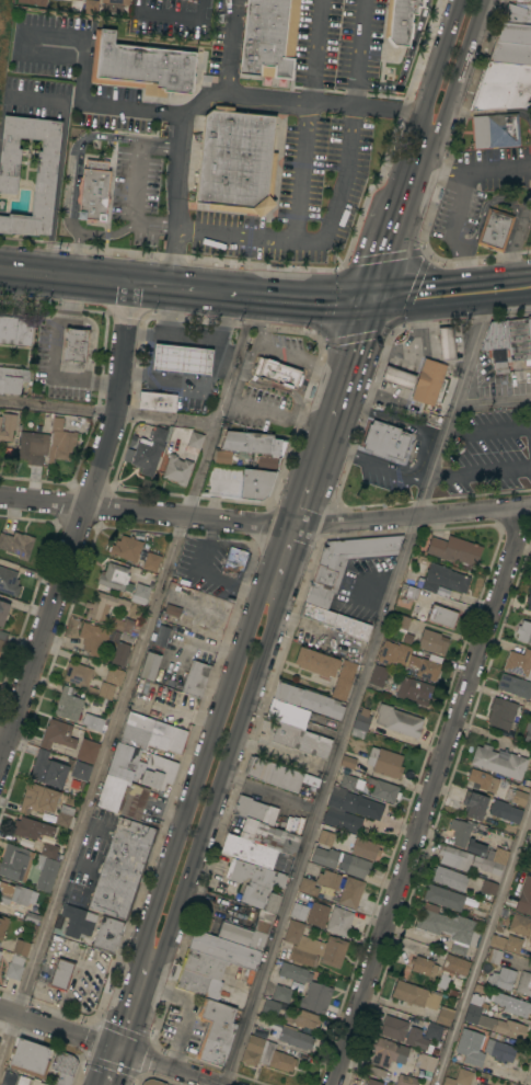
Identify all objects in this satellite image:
building: (32, 1)
building: (116, 1)
building: (521, 1)
building: (90, 7)
building: (516, 14)
building: (400, 21)
building: (513, 32)
building: (269, 37)
parking lot: (339, 42)
road: (227, 45)
road: (84, 47)
road: (314, 50)
road: (358, 53)
building: (510, 53)
building: (140, 66)
road: (438, 67)
road: (459, 70)
building: (501, 87)
road: (222, 90)
building: (495, 130)
building: (235, 161)
road: (416, 164)
road: (302, 169)
road: (499, 169)
building: (45, 171)
parking lot: (137, 178)
road: (138, 184)
road: (71, 185)
building: (93, 191)
parking lot: (299, 196)
road: (463, 201)
building: (494, 228)
road: (314, 238)
road: (388, 245)
road: (76, 251)
road: (509, 251)
road: (66, 274)
road: (449, 281)
road: (173, 285)
road: (291, 296)
traffic signals: (370, 298)
road: (450, 308)
building: (15, 329)
building: (530, 331)
road: (148, 333)
road: (194, 334)
road: (91, 336)
building: (507, 342)
building: (446, 343)
building: (74, 344)
road: (218, 346)
road: (148, 354)
building: (180, 357)
road: (49, 358)
road: (235, 358)
road: (347, 368)
building: (278, 373)
building: (397, 377)
building: (12, 379)
road: (188, 381)
building: (428, 381)
building: (157, 401)
road: (492, 402)
road: (108, 412)
road: (276, 414)
building: (7, 425)
road: (496, 429)
building: (195, 439)
building: (383, 439)
building: (60, 441)
building: (252, 443)
building: (172, 445)
building: (33, 447)
building: (150, 450)
parking lot: (487, 455)
building: (221, 457)
building: (265, 460)
building: (176, 469)
road: (480, 472)
road: (311, 482)
building: (255, 483)
road: (265, 523)
road: (80, 524)
building: (16, 544)
building: (125, 548)
building: (453, 549)
building: (235, 557)
building: (150, 561)
building: (343, 563)
road: (293, 566)
building: (115, 578)
building: (443, 579)
building: (9, 581)
building: (530, 581)
building: (419, 582)
building: (139, 594)
building: (406, 594)
building: (529, 601)
building: (101, 605)
building: (170, 609)
building: (2, 610)
building: (441, 616)
building: (335, 621)
building: (401, 623)
building: (125, 628)
building: (523, 631)
building: (160, 635)
building: (2, 638)
building: (93, 638)
building: (431, 641)
building: (119, 653)
building: (409, 660)
building: (315, 662)
building: (518, 662)
building: (149, 665)
building: (78, 673)
building: (378, 675)
building: (114, 676)
building: (195, 678)
building: (343, 679)
building: (513, 685)
building: (105, 690)
building: (414, 690)
building: (145, 693)
road: (356, 695)
building: (308, 699)
building: (67, 704)
building: (287, 713)
building: (501, 715)
building: (161, 717)
building: (360, 720)
building: (397, 721)
building: (93, 722)
building: (528, 731)
building: (57, 734)
building: (151, 735)
road: (210, 735)
building: (301, 740)
road: (111, 749)
building: (88, 751)
building: (347, 759)
building: (498, 761)
building: (123, 762)
building: (384, 762)
building: (47, 769)
building: (80, 770)
building: (158, 772)
building: (273, 774)
building: (478, 777)
building: (348, 781)
building: (384, 790)
road: (270, 793)
road: (426, 795)
building: (122, 796)
building: (519, 797)
building: (38, 799)
building: (474, 804)
building: (348, 809)
building: (254, 810)
building: (505, 811)
building: (65, 816)
building: (293, 825)
building: (31, 827)
road: (204, 830)
building: (530, 830)
building: (460, 832)
building: (269, 836)
building: (530, 843)
building: (474, 847)
building: (365, 848)
building: (249, 850)
building: (325, 853)
building: (454, 857)
building: (492, 860)
building: (14, 863)
building: (46, 866)
building: (122, 868)
building: (450, 878)
building: (327, 879)
building: (256, 883)
building: (308, 887)
building: (488, 887)
building: (350, 892)
building: (15, 894)
building: (443, 896)
building: (524, 896)
building: (298, 911)
building: (318, 914)
building: (339, 921)
building: (73, 922)
building: (520, 925)
building: (2, 926)
building: (448, 927)
building: (246, 930)
building: (107, 934)
building: (529, 939)
road: (483, 941)
building: (497, 941)
building: (512, 944)
building: (530, 945)
building: (21, 947)
building: (313, 947)
building: (223, 949)
building: (493, 956)
building: (201, 963)
building: (423, 964)
building: (455, 964)
building: (230, 966)
building: (13, 971)
building: (61, 973)
building: (250, 976)
building: (501, 978)
building: (443, 982)
building: (524, 983)
building: (198, 984)
building: (307, 987)
building: (281, 993)
building: (415, 995)
building: (475, 1000)
road: (124, 1002)
building: (510, 1004)
building: (269, 1007)
building: (445, 1015)
building: (301, 1018)
building: (495, 1023)
road: (54, 1028)
building: (393, 1028)
building: (215, 1030)
building: (432, 1031)
building: (295, 1038)
building: (416, 1039)
building: (470, 1047)
building: (499, 1050)
road: (118, 1051)
building: (265, 1054)
building: (385, 1055)
building: (30, 1058)
building: (426, 1062)
road: (102, 1066)
building: (64, 1067)
road: (124, 1070)
road: (175, 1070)
building: (459, 1077)
building: (405, 1080)
building: (27, 1081)
building: (151, 1082)
building: (371, 1082)
building: (1, 1084)
building: (478, 1084)
building: (481, 1084)

